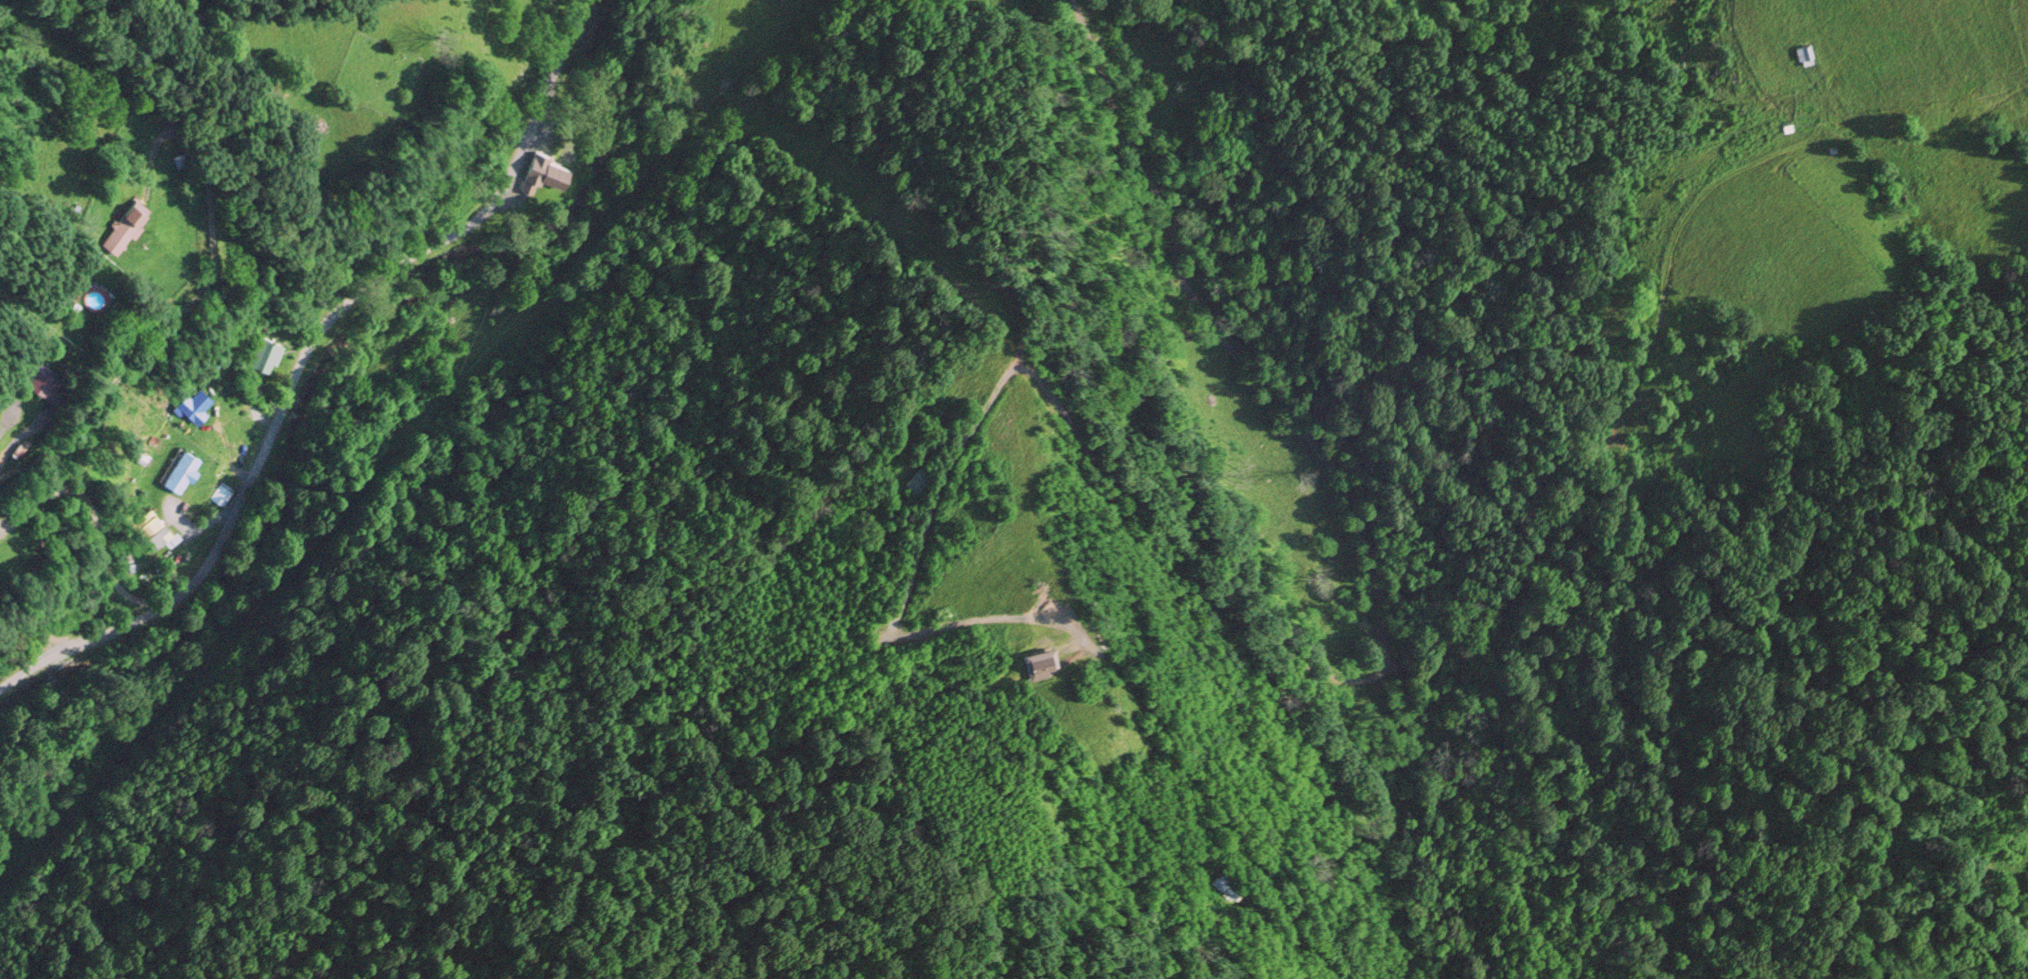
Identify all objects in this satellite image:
building: (1802, 55)
building: (1790, 131)
building: (546, 174)
building: (123, 231)
building: (261, 359)
road: (305, 361)
building: (212, 362)
building: (38, 381)
building: (193, 408)
building: (179, 473)
building: (222, 496)
road: (94, 527)
road: (1, 531)
building: (154, 534)
building: (41, 566)
road: (1408, 669)

